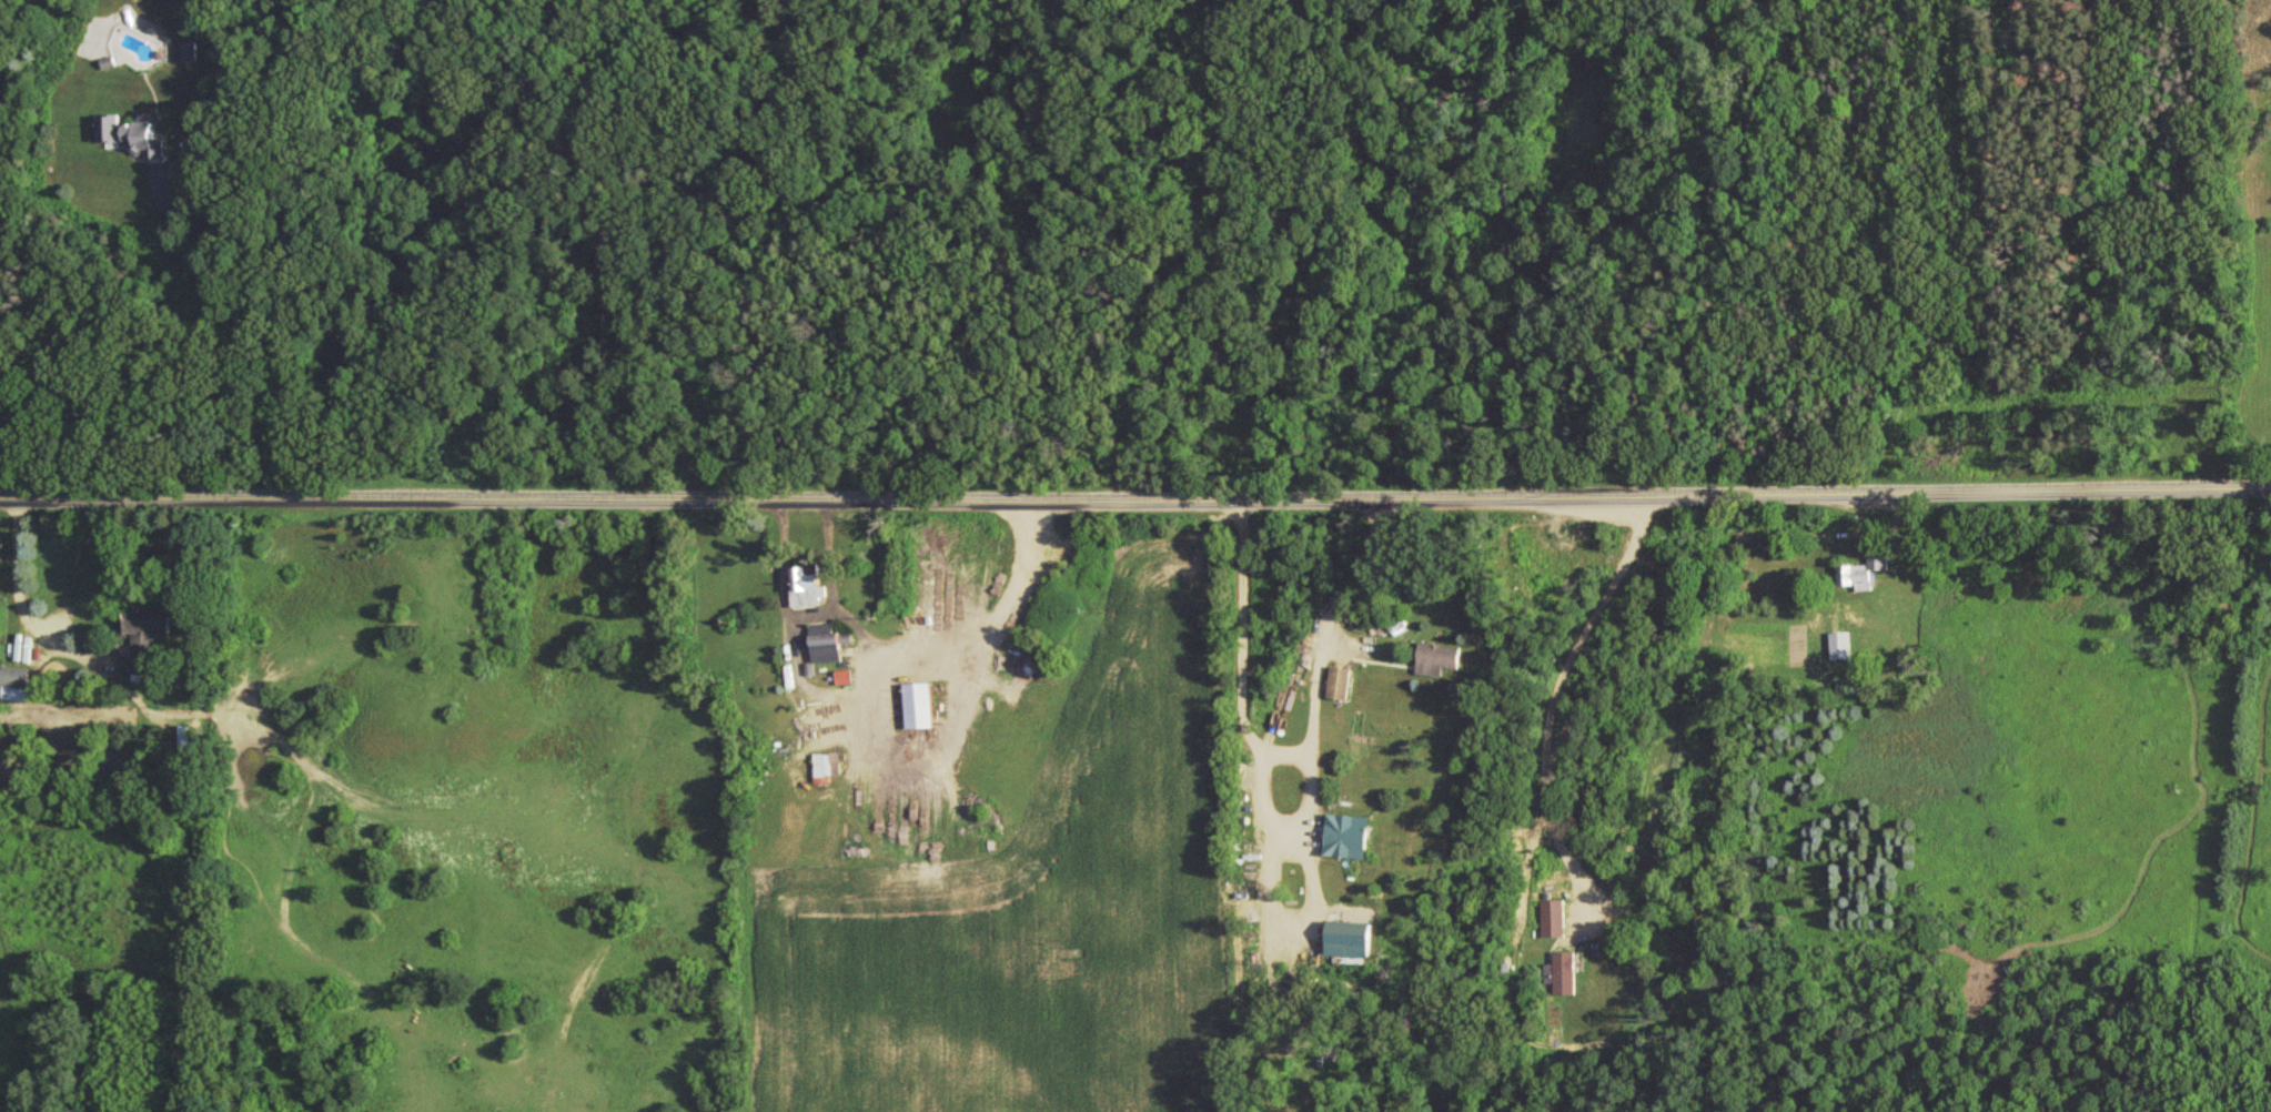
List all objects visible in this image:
road: (1133, 54)
building: (144, 144)
road: (1184, 254)
road: (127, 355)
road: (1135, 501)
building: (1866, 576)
road: (8, 578)
building: (811, 599)
building: (1871, 638)
building: (144, 644)
building: (828, 648)
building: (1440, 664)
building: (1342, 688)
building: (18, 689)
road: (1552, 689)
building: (920, 710)
road: (1255, 759)
building: (827, 770)
road: (646, 812)
building: (1354, 842)
building: (1552, 923)
building: (1564, 979)

